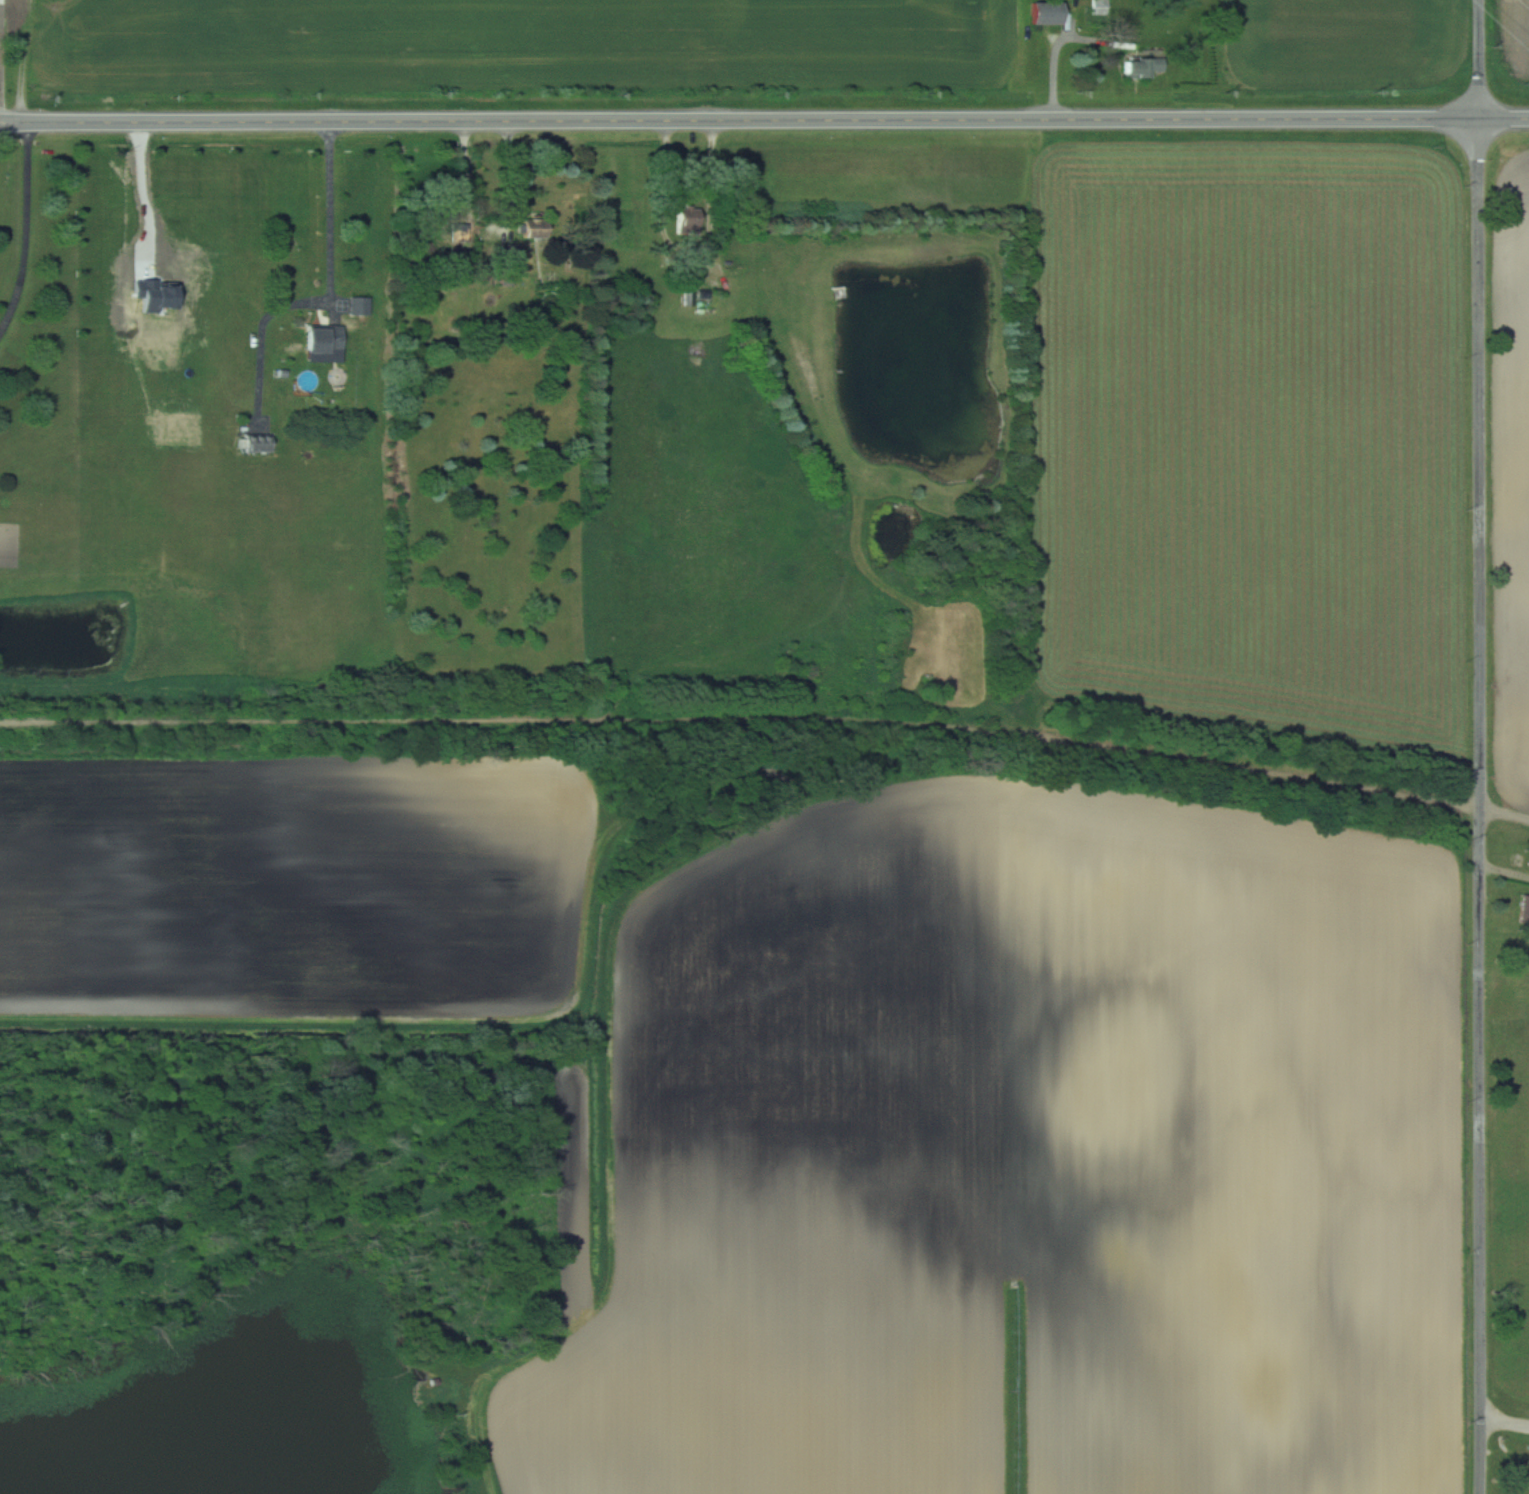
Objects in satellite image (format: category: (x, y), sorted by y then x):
building: (1100, 7)
building: (1044, 12)
road: (4, 61)
building: (1142, 66)
road: (764, 120)
building: (687, 221)
building: (532, 228)
road: (27, 230)
road: (692, 251)
building: (507, 264)
road: (333, 292)
building: (361, 305)
building: (323, 338)
building: (257, 442)
road: (1482, 747)
building: (1524, 910)
road: (1505, 1420)

